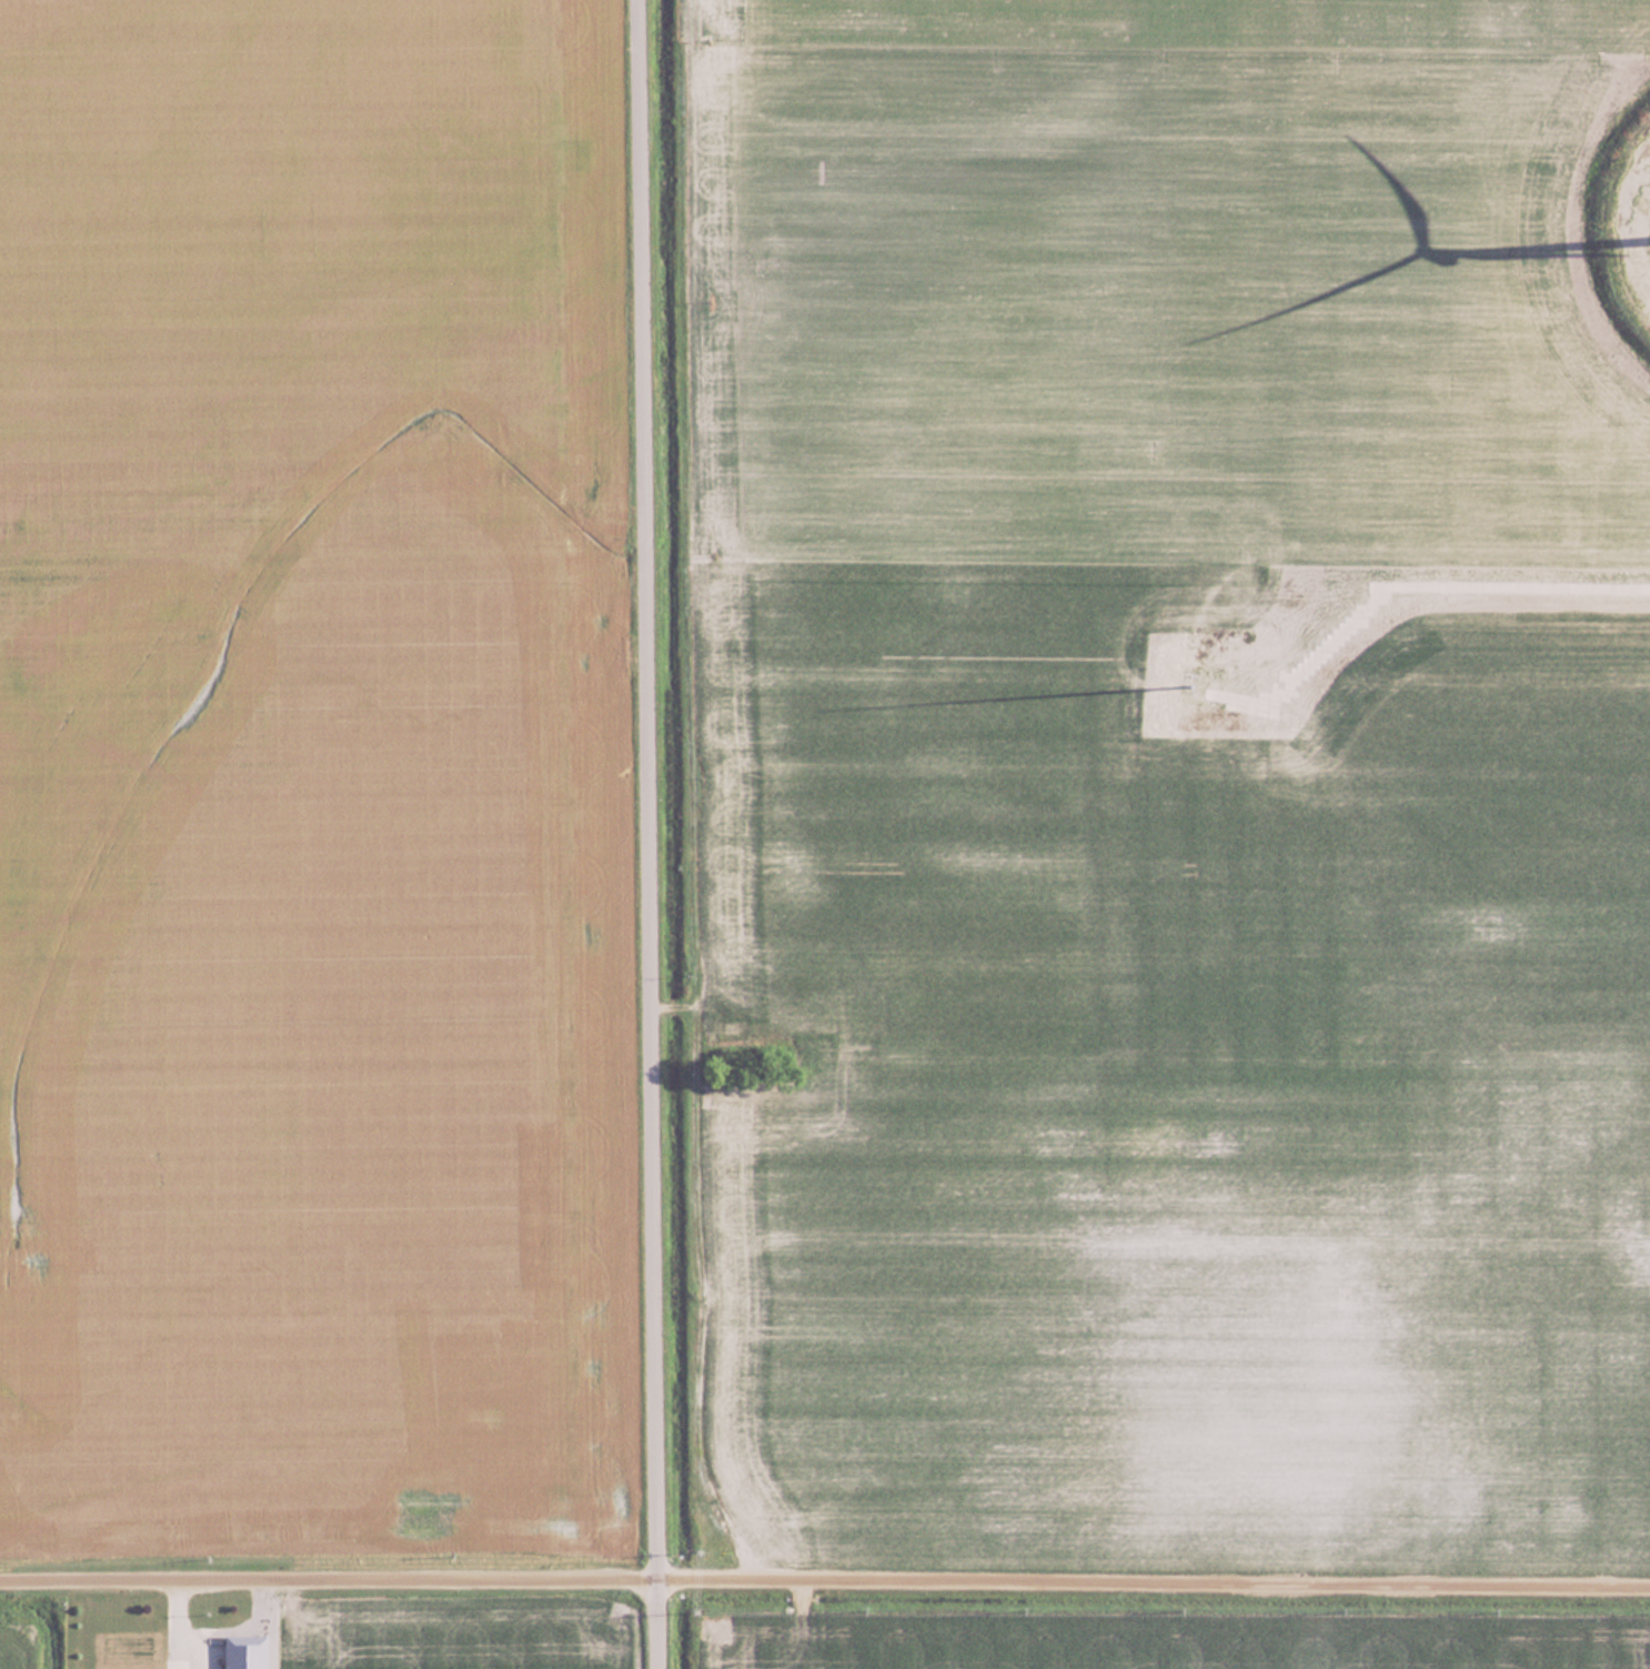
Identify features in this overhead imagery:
road: (650, 834)
building: (716, 1029)
road: (825, 1585)

